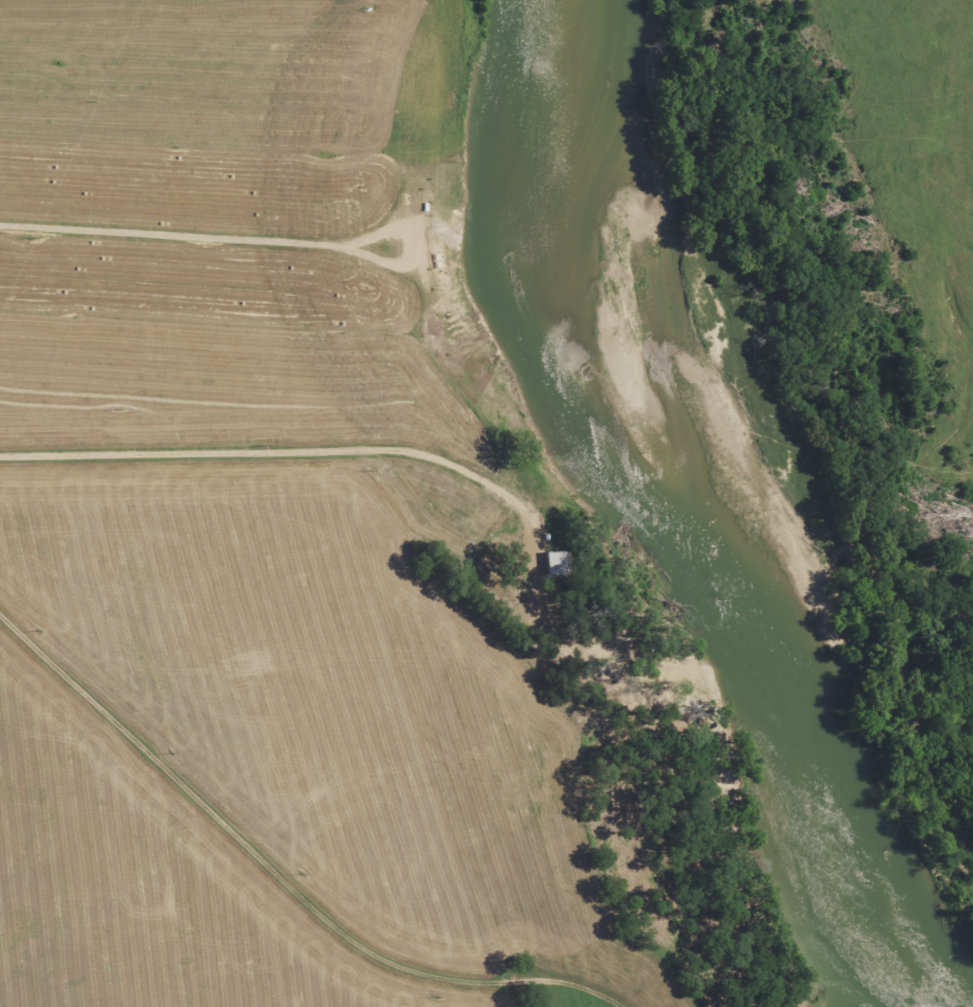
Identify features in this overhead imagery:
road: (29, 21)
river: (743, 504)

